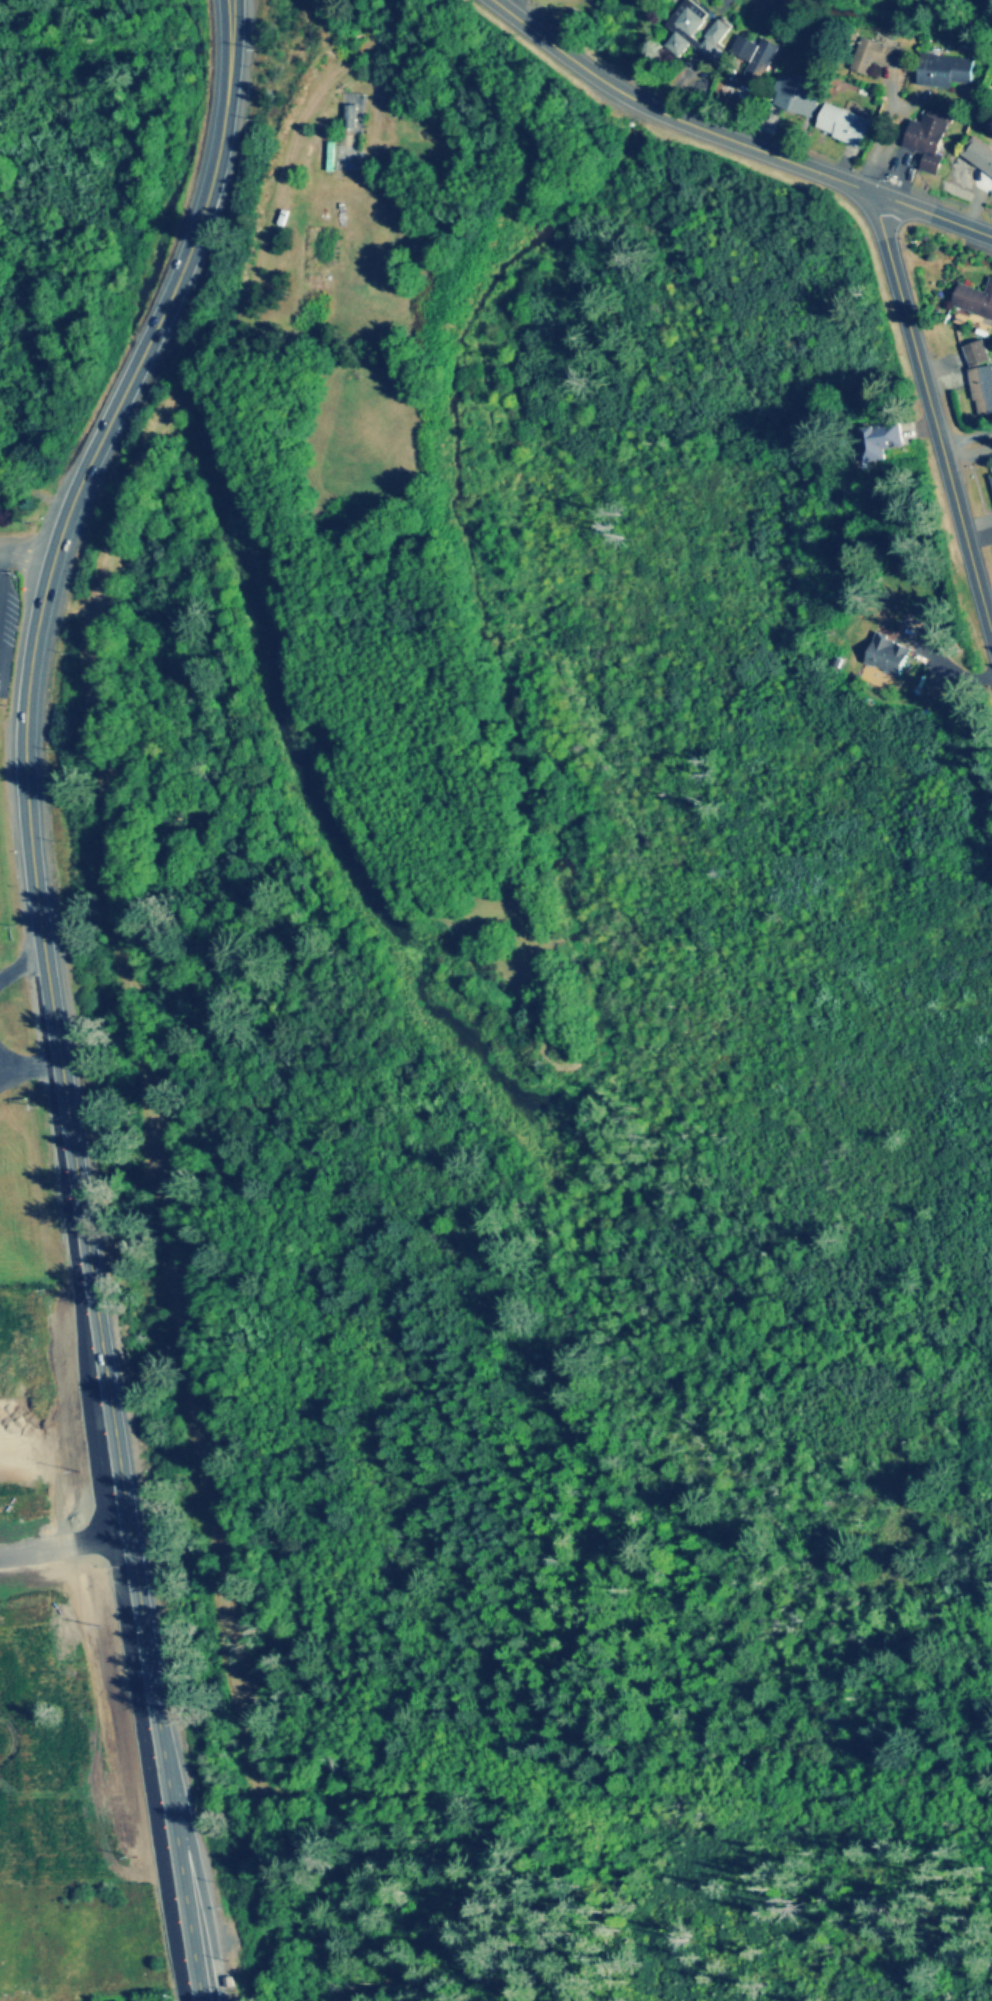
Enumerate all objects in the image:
river: (887, 25)
building: (696, 29)
building: (877, 56)
building: (757, 57)
building: (945, 71)
building: (799, 95)
building: (352, 119)
building: (846, 124)
road: (733, 138)
building: (929, 140)
building: (979, 154)
building: (333, 156)
building: (974, 300)
building: (981, 375)
road: (934, 410)
building: (872, 442)
road: (4, 559)
road: (27, 559)
building: (890, 655)
road: (49, 986)
railway: (126, 990)

